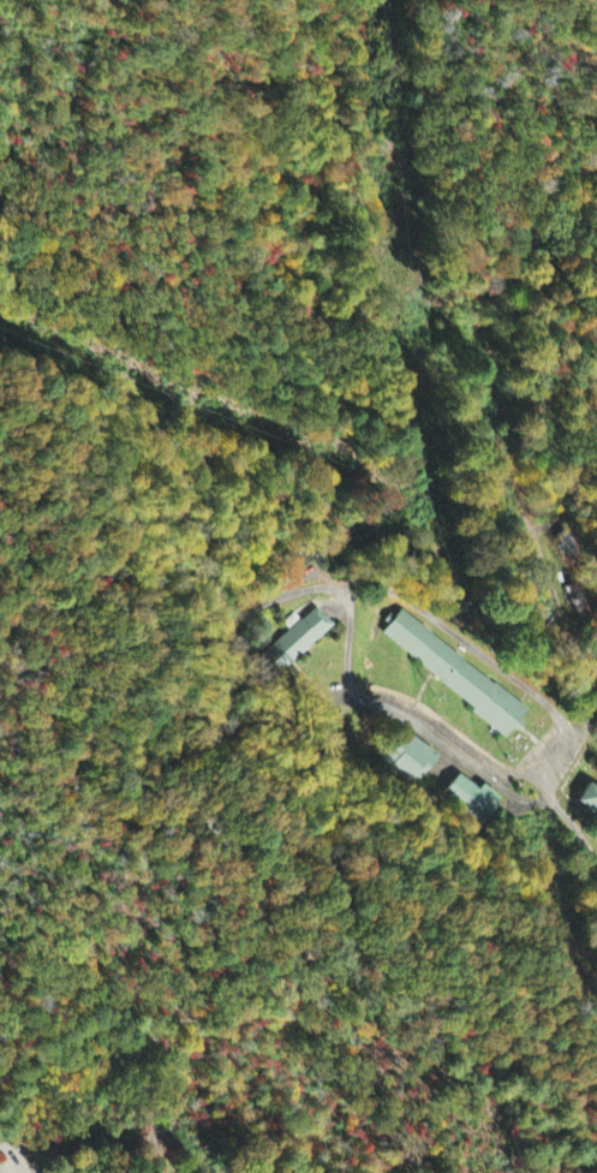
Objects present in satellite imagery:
building: (569, 543)
building: (581, 597)
road: (465, 639)
building: (298, 641)
road: (577, 653)
building: (454, 671)
road: (438, 738)
building: (407, 758)
building: (471, 800)
building: (587, 802)
road: (121, 818)
road: (338, 903)
road: (6, 1151)
parking lot: (13, 1159)
road: (18, 1166)

